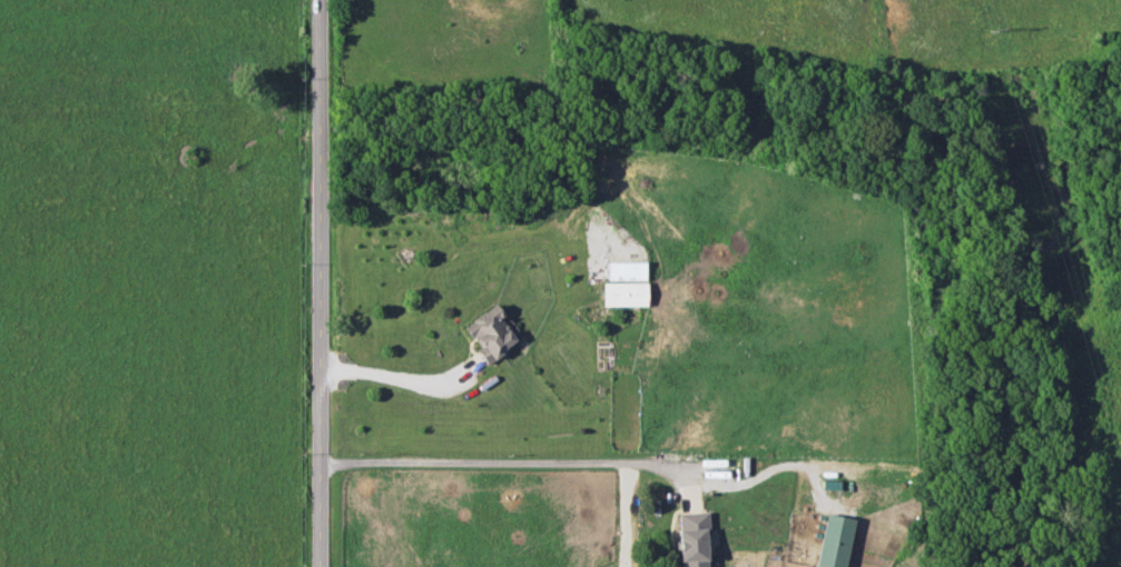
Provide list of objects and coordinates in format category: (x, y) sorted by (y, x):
building: (623, 282)
road: (317, 283)
building: (489, 331)
road: (378, 370)
road: (478, 460)
road: (740, 480)
building: (691, 538)
building: (833, 540)

